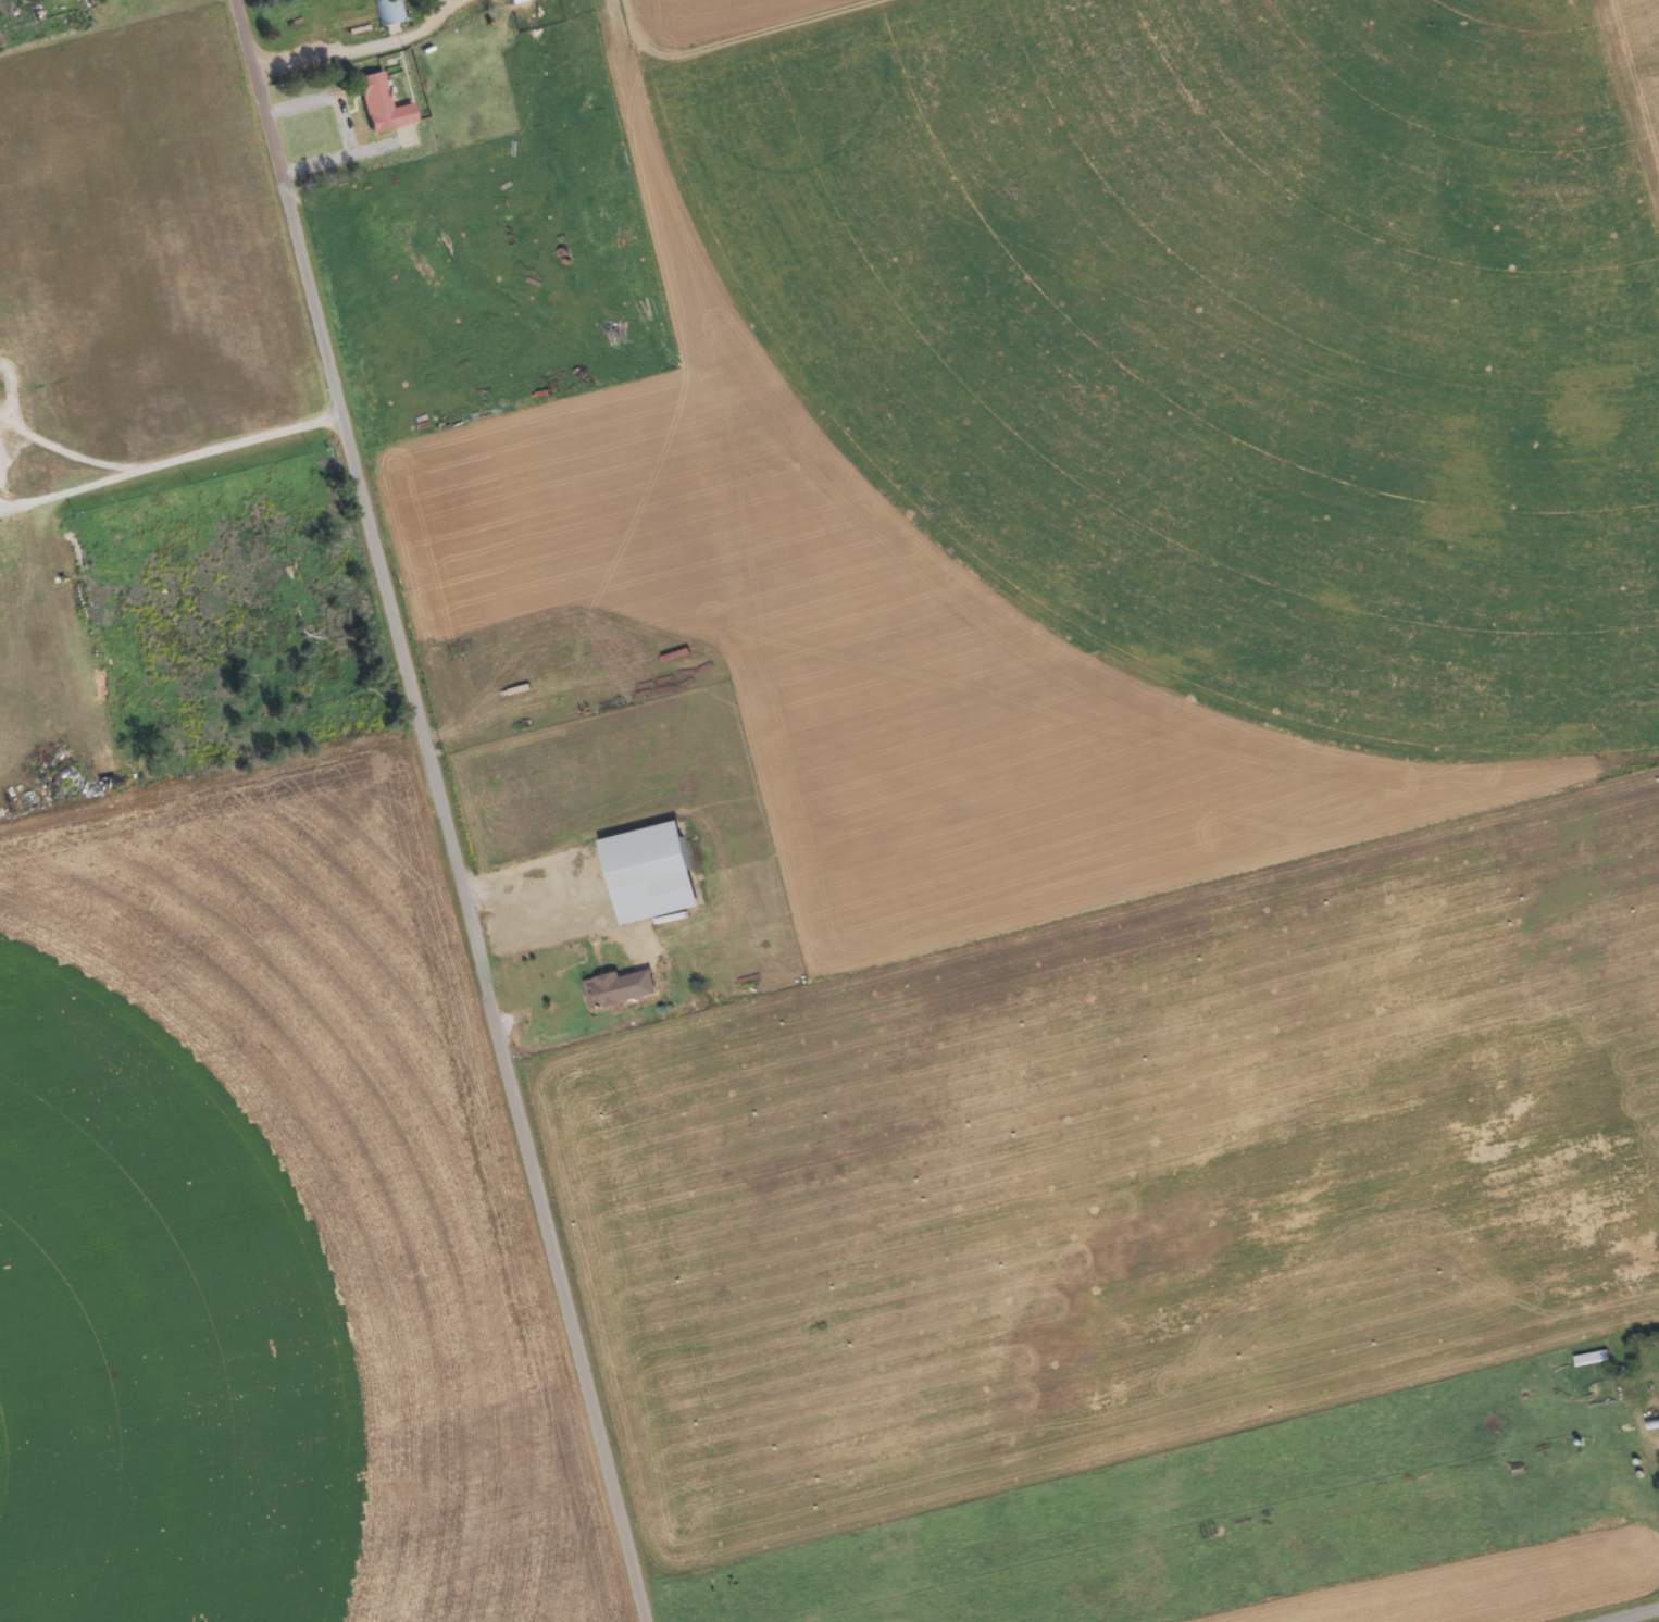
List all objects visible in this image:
building: (520, 1)
building: (390, 12)
building: (385, 107)
road: (439, 811)
building: (658, 875)
building: (626, 990)
building: (1596, 1360)
road: (1626, 1613)

